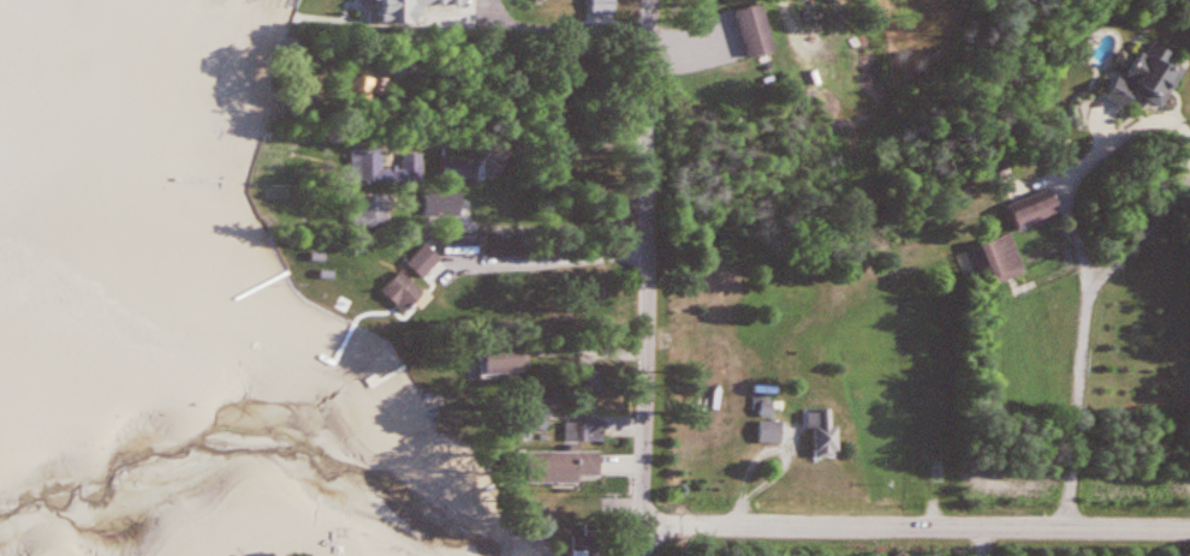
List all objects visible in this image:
building: (445, 8)
building: (489, 14)
road: (570, 25)
building: (749, 31)
building: (1138, 78)
building: (353, 88)
road: (534, 142)
building: (365, 163)
road: (1084, 163)
building: (457, 169)
building: (440, 204)
building: (370, 211)
road: (1141, 225)
building: (1008, 240)
road: (547, 259)
building: (421, 263)
road: (651, 277)
building: (399, 292)
building: (493, 360)
building: (583, 381)
road: (1072, 402)
building: (760, 409)
building: (582, 431)
building: (766, 434)
building: (817, 435)
building: (555, 468)
road: (912, 521)
building: (583, 554)

